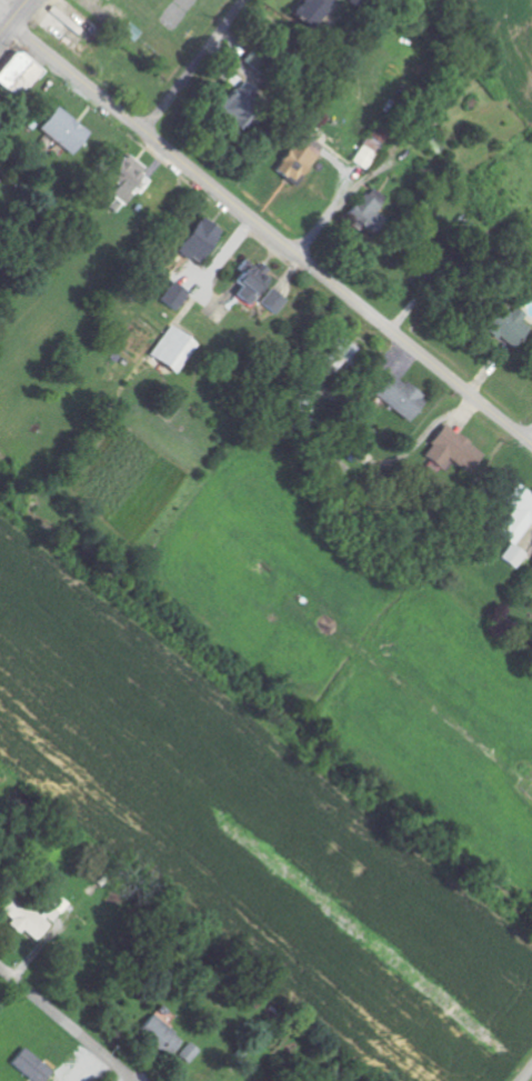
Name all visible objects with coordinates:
building: (307, 11)
road: (4, 17)
road: (13, 17)
road: (194, 64)
building: (16, 73)
building: (62, 130)
building: (297, 159)
building: (122, 178)
building: (362, 210)
road: (270, 233)
building: (194, 239)
building: (248, 281)
building: (172, 296)
building: (269, 303)
building: (502, 322)
building: (341, 349)
building: (170, 350)
building: (398, 396)
road: (530, 438)
building: (357, 443)
building: (451, 452)
building: (515, 522)
building: (31, 915)
road: (67, 1023)
building: (155, 1035)
building: (185, 1053)
building: (28, 1065)
road: (526, 1074)

